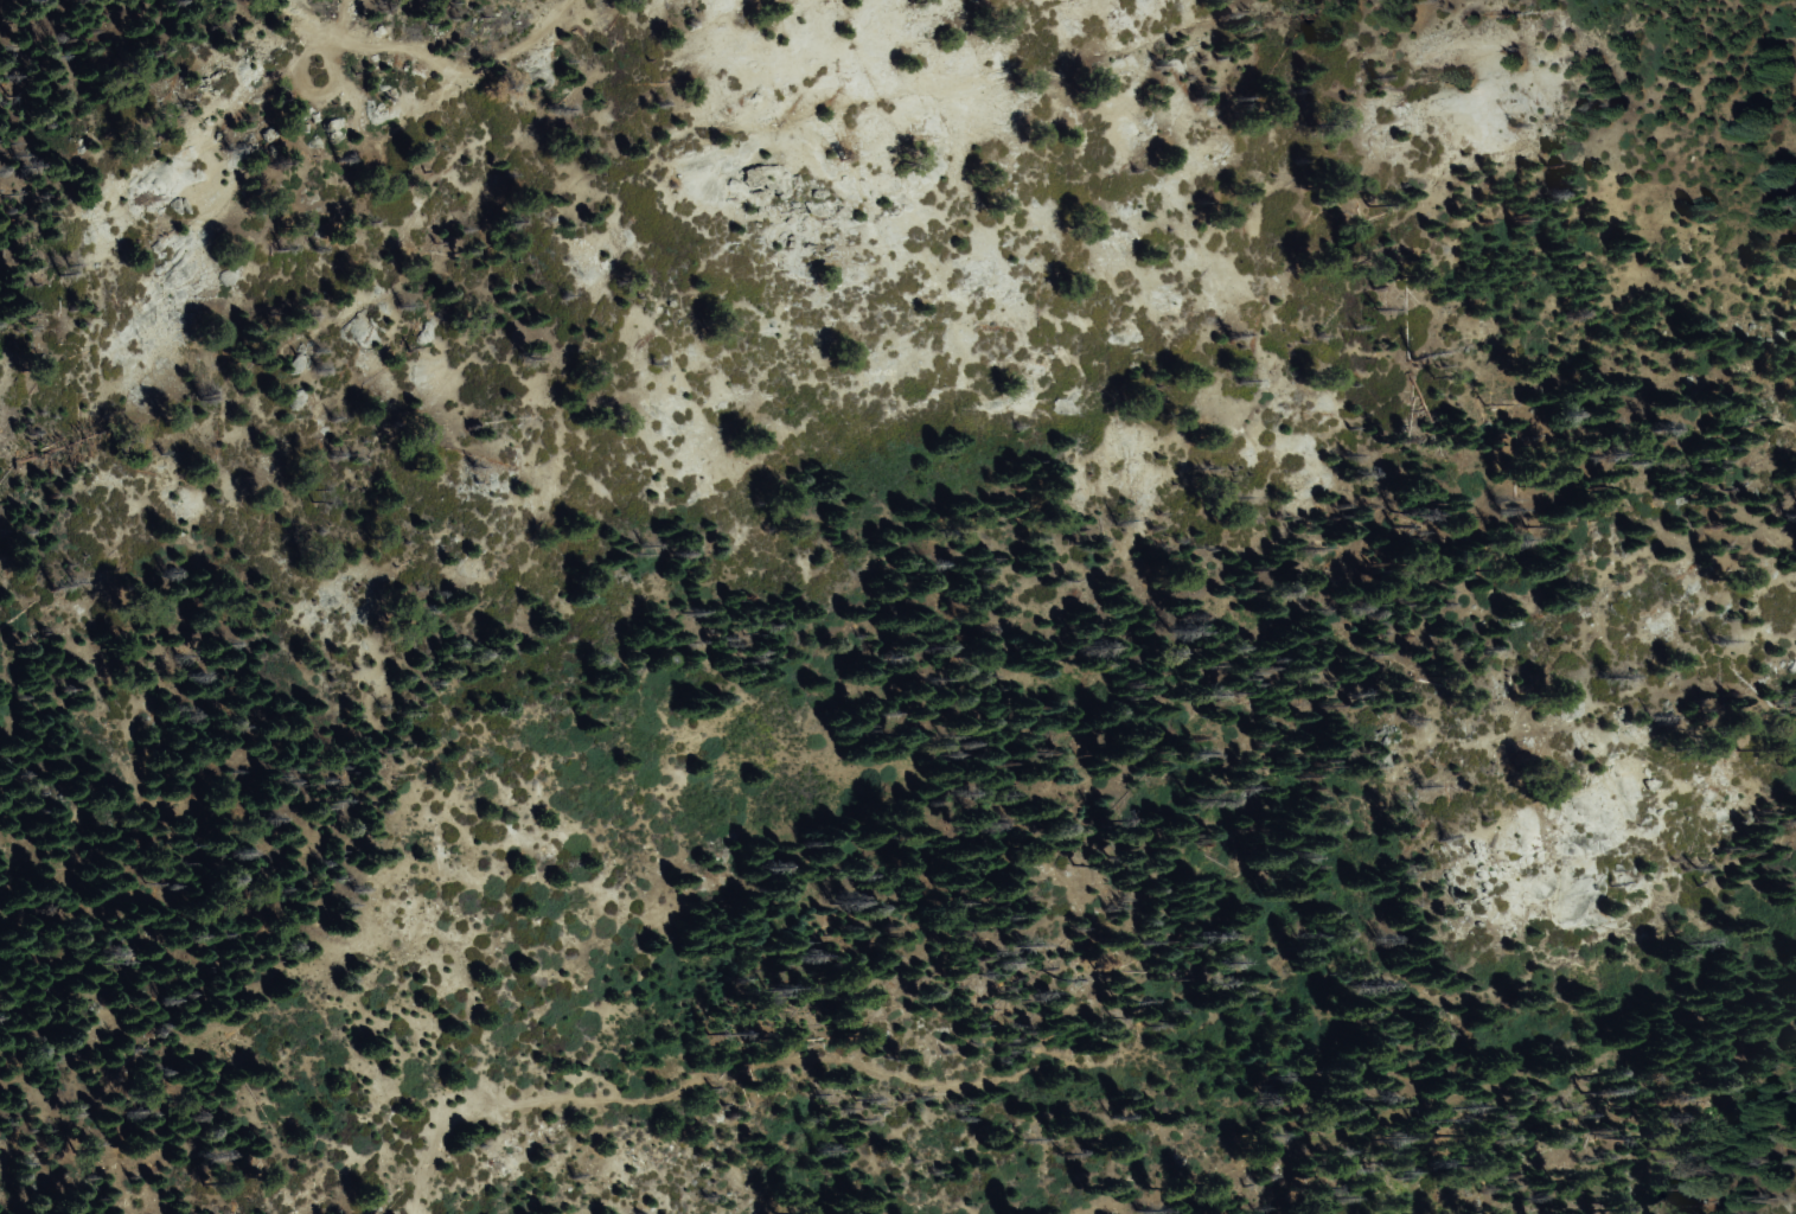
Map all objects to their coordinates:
road: (302, 20)
road: (455, 72)
road: (313, 91)

